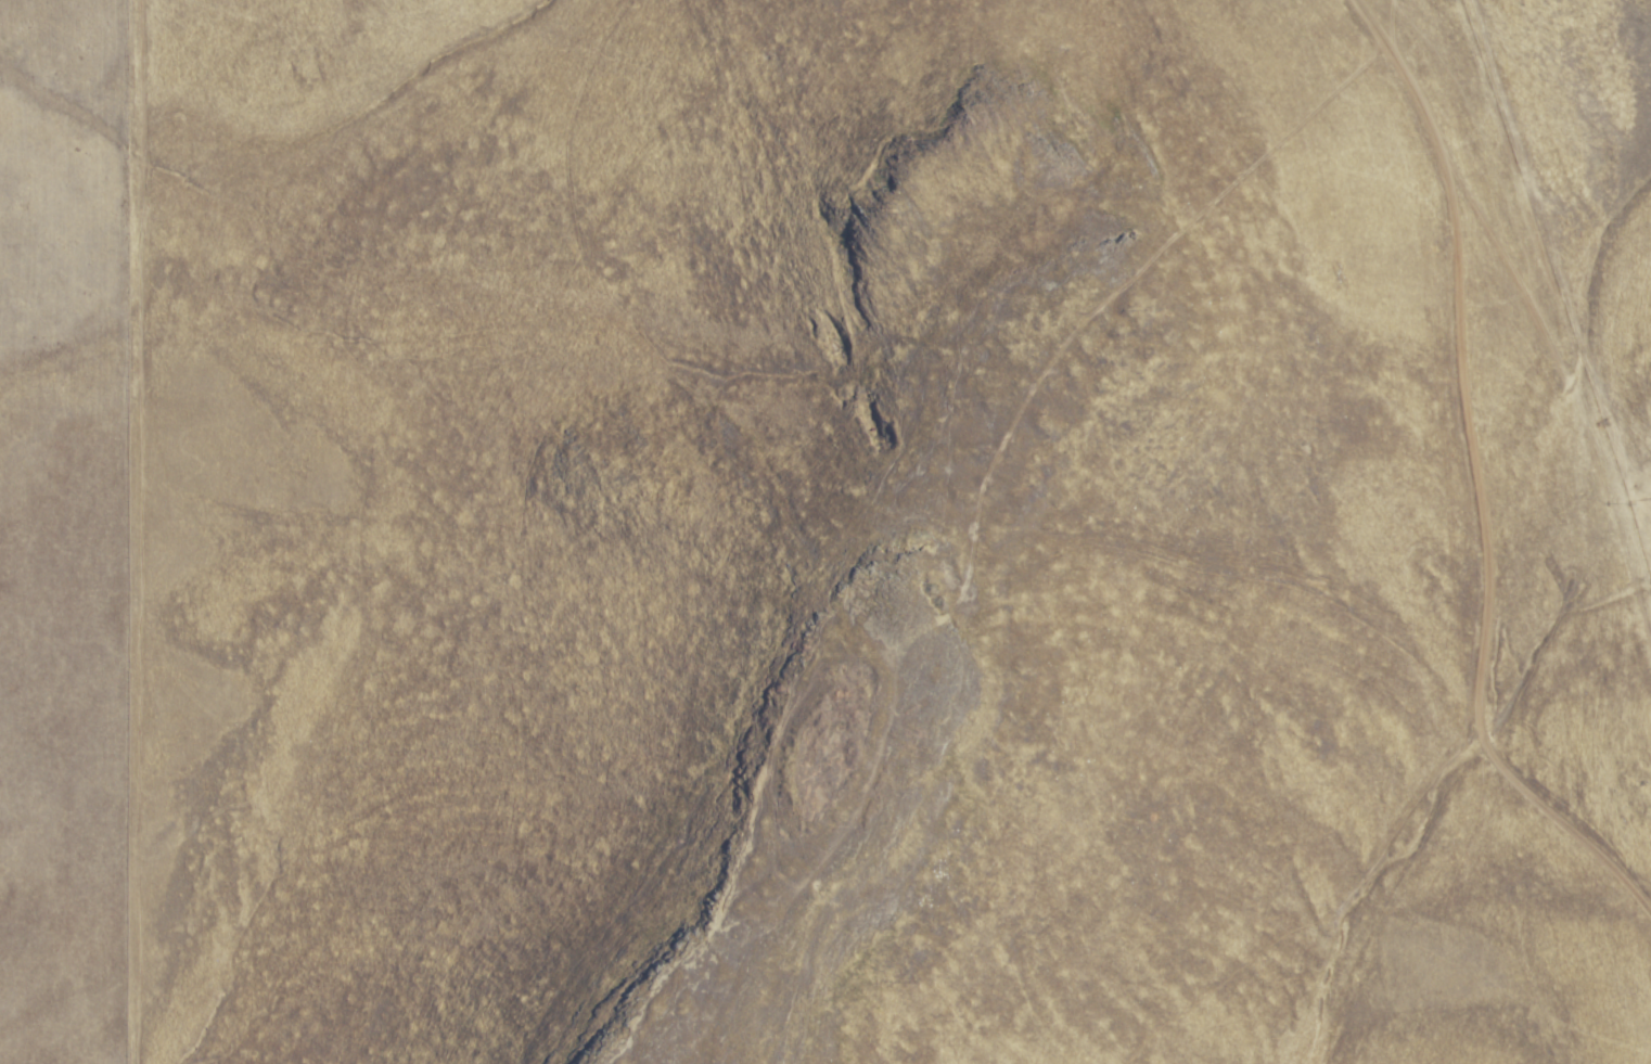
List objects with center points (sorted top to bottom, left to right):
road: (1457, 480)

